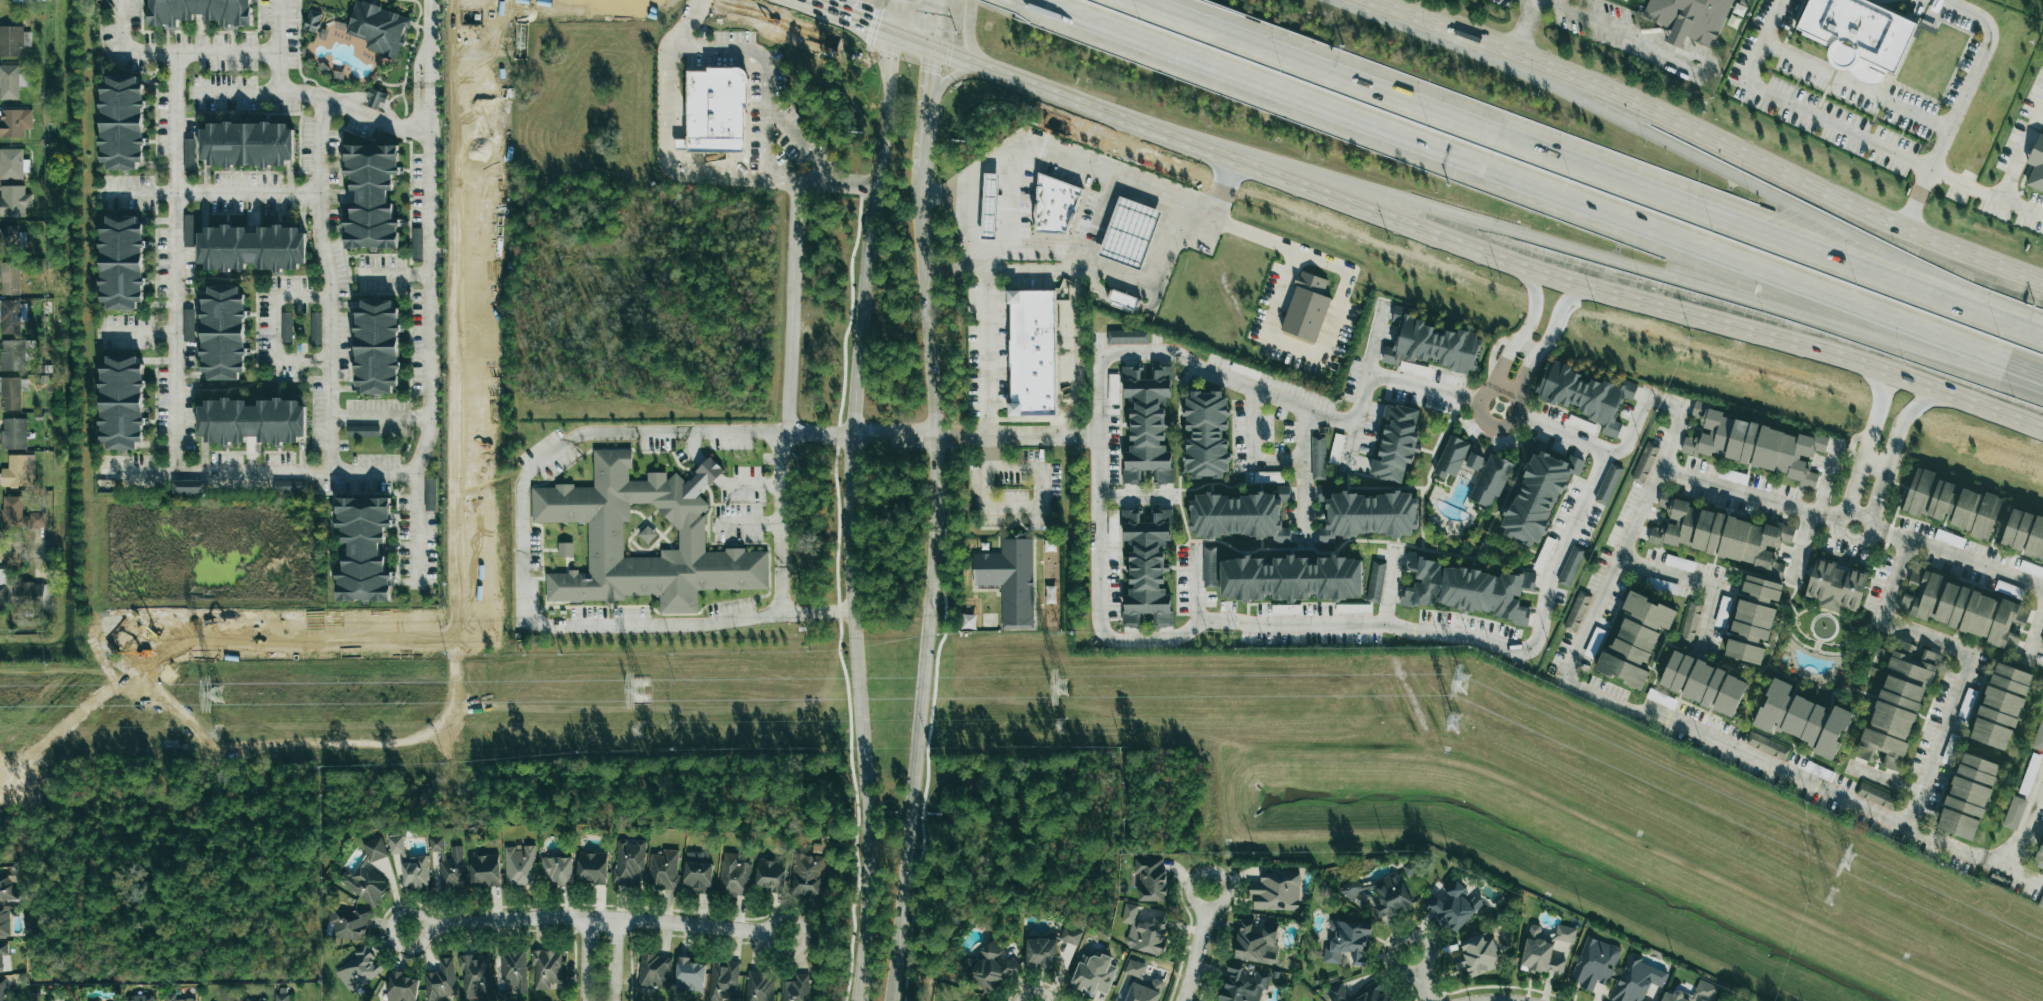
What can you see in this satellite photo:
building: (1625, 0)
road: (800, 2)
road: (811, 2)
road: (1384, 6)
building: (193, 12)
road: (895, 18)
road: (1586, 18)
building: (1688, 19)
road: (849, 20)
building: (310, 21)
road: (692, 22)
road: (934, 26)
building: (378, 27)
traffic signals: (870, 28)
road: (1521, 32)
road: (1677, 36)
building: (1855, 36)
road: (1639, 38)
building: (10, 41)
road: (423, 43)
road: (274, 46)
road: (972, 48)
road: (171, 52)
road: (1705, 66)
traffic signals: (930, 72)
road: (1974, 75)
road: (961, 76)
road: (767, 78)
building: (8, 82)
road: (1857, 86)
road: (311, 94)
building: (373, 98)
road: (927, 108)
road: (1800, 110)
building: (712, 111)
building: (14, 123)
building: (115, 123)
road: (1725, 142)
building: (241, 145)
road: (2023, 154)
road: (670, 155)
building: (10, 163)
road: (987, 163)
building: (2035, 166)
road: (1722, 168)
road: (1588, 170)
road: (782, 178)
road: (833, 182)
road: (1536, 189)
building: (364, 192)
road: (207, 193)
road: (1987, 193)
road: (945, 196)
road: (1919, 199)
building: (13, 200)
road: (1006, 204)
building: (1054, 205)
building: (989, 207)
gas station: (989, 207)
building: (1128, 232)
gas station: (1128, 232)
building: (415, 243)
road: (1463, 245)
building: (246, 246)
road: (1029, 250)
building: (115, 260)
road: (1607, 262)
road: (169, 263)
road: (951, 264)
road: (1075, 268)
road: (391, 273)
road: (325, 284)
building: (1121, 298)
building: (1304, 306)
road: (1333, 312)
building: (8, 317)
building: (284, 326)
building: (314, 327)
road: (270, 330)
road: (1521, 330)
building: (216, 331)
road: (138, 332)
building: (1126, 336)
road: (423, 337)
road: (1545, 341)
building: (1429, 343)
building: (370, 344)
building: (1030, 352)
building: (10, 354)
building: (1415, 369)
road: (1364, 387)
road: (1425, 389)
road: (1497, 392)
building: (9, 393)
building: (1583, 394)
building: (115, 400)
road: (1514, 402)
building: (246, 419)
road: (374, 422)
road: (1490, 422)
building: (1144, 423)
road: (1873, 423)
road: (1900, 423)
road: (781, 428)
building: (361, 431)
building: (12, 433)
road: (807, 433)
building: (1203, 433)
road: (1088, 437)
road: (1626, 439)
building: (1393, 442)
building: (1753, 444)
road: (1254, 448)
road: (992, 452)
road: (1099, 453)
building: (1317, 457)
building: (1450, 457)
building: (1471, 460)
road: (1876, 461)
building: (1644, 462)
building: (13, 472)
road: (258, 474)
road: (1301, 474)
building: (1489, 479)
road: (1700, 480)
building: (1607, 484)
building: (185, 486)
building: (286, 486)
road: (520, 487)
building: (429, 493)
building: (1536, 493)
road: (1133, 494)
road: (1852, 495)
road: (1876, 503)
building: (1951, 504)
road: (1038, 508)
building: (1365, 513)
building: (20, 515)
building: (1238, 515)
road: (848, 518)
building: (2024, 534)
building: (601, 538)
building: (1949, 538)
road: (1863, 544)
building: (1548, 545)
building: (363, 548)
building: (565, 548)
road: (28, 550)
road: (1975, 561)
building: (1679, 563)
building: (1571, 566)
building: (1210, 568)
building: (2032, 569)
building: (1291, 577)
road: (1693, 577)
building: (1008, 580)
building: (1376, 581)
road: (930, 583)
building: (1663, 585)
building: (1837, 585)
building: (1760, 587)
building: (1468, 588)
building: (1051, 594)
building: (33, 595)
building: (3, 597)
building: (1965, 609)
building: (1577, 611)
building: (1723, 612)
building: (968, 621)
building: (1691, 621)
road: (2033, 628)
road: (1465, 636)
building: (1636, 639)
building: (2042, 640)
road: (1950, 648)
power tower: (1458, 684)
building: (1704, 684)
power tower: (1061, 689)
power tower: (641, 692)
power tower: (218, 697)
building: (1897, 705)
building: (2001, 705)
building: (1803, 719)
power tower: (1056, 722)
power tower: (1449, 723)
power tower: (639, 729)
power tower: (217, 733)
road: (1716, 743)
building: (1767, 746)
building: (2030, 774)
building: (1876, 796)
building: (1968, 796)
building: (2014, 813)
road: (2019, 840)
building: (2039, 858)
building: (629, 861)
power tower: (1844, 862)
road: (1996, 862)
building: (410, 865)
building: (520, 865)
building: (449, 866)
building: (593, 867)
building: (485, 870)
building: (557, 870)
building: (664, 870)
building: (367, 874)
building: (734, 875)
building: (771, 875)
building: (808, 875)
building: (698, 876)
building: (1150, 879)
building: (8, 887)
building: (1351, 888)
building: (1277, 892)
building: (1391, 896)
power tower: (1828, 896)
building: (2041, 902)
building: (1454, 905)
road: (595, 919)
building: (4, 922)
building: (347, 924)
building: (1144, 931)
building: (1069, 936)
building: (1257, 941)
building: (1348, 942)
road: (1198, 947)
building: (1545, 950)
building: (1041, 953)
building: (1478, 955)
building: (4, 957)
road: (586, 960)
road: (616, 960)
building: (1595, 963)
building: (993, 967)
building: (359, 969)
building: (546, 969)
building: (1135, 969)
building: (654, 971)
building: (514, 972)
building: (1094, 974)
building: (475, 975)
building: (690, 975)
road: (1419, 978)
building: (1637, 980)
building: (441, 981)
building: (723, 981)
building: (1244, 985)
building: (759, 986)
building: (402, 987)
building: (796, 989)
building: (3, 990)
building: (1705, 990)
building: (1145, 991)
building: (1337, 993)
building: (1374, 993)
building: (281, 997)
building: (141, 998)
building: (174, 998)
building: (97, 1000)
building: (254, 1000)

